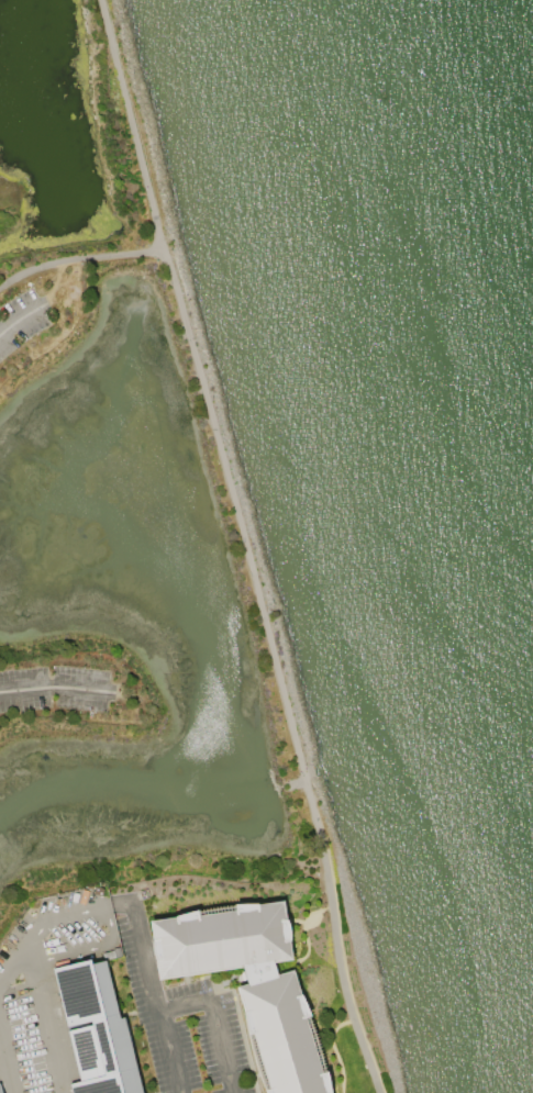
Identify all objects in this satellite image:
road: (80, 261)
road: (16, 325)
road: (241, 547)
road: (53, 688)
road: (131, 917)
road: (108, 922)
road: (71, 949)
park: (310, 949)
building: (247, 984)
road: (44, 1017)
road: (213, 1022)
building: (93, 1029)
road: (7, 1064)
building: (0, 1092)

